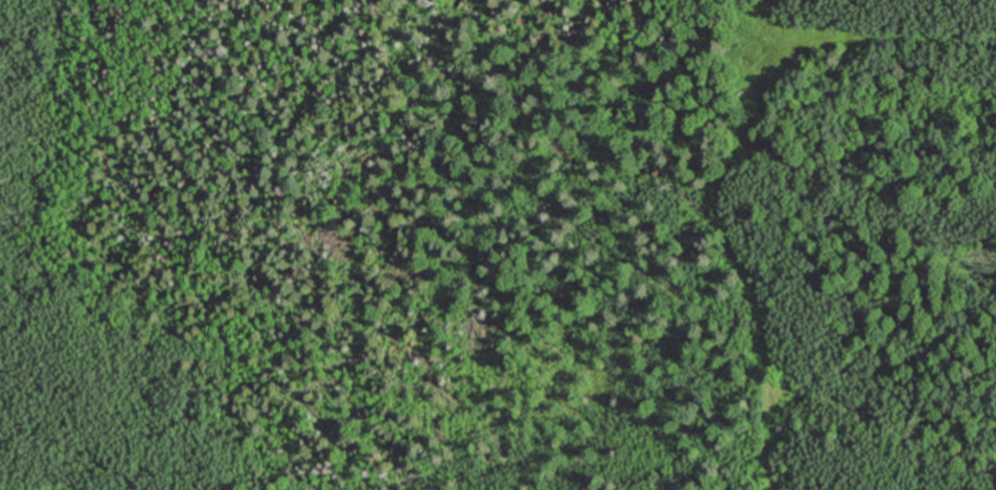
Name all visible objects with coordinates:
road: (756, 35)
road: (733, 155)
road: (67, 487)

